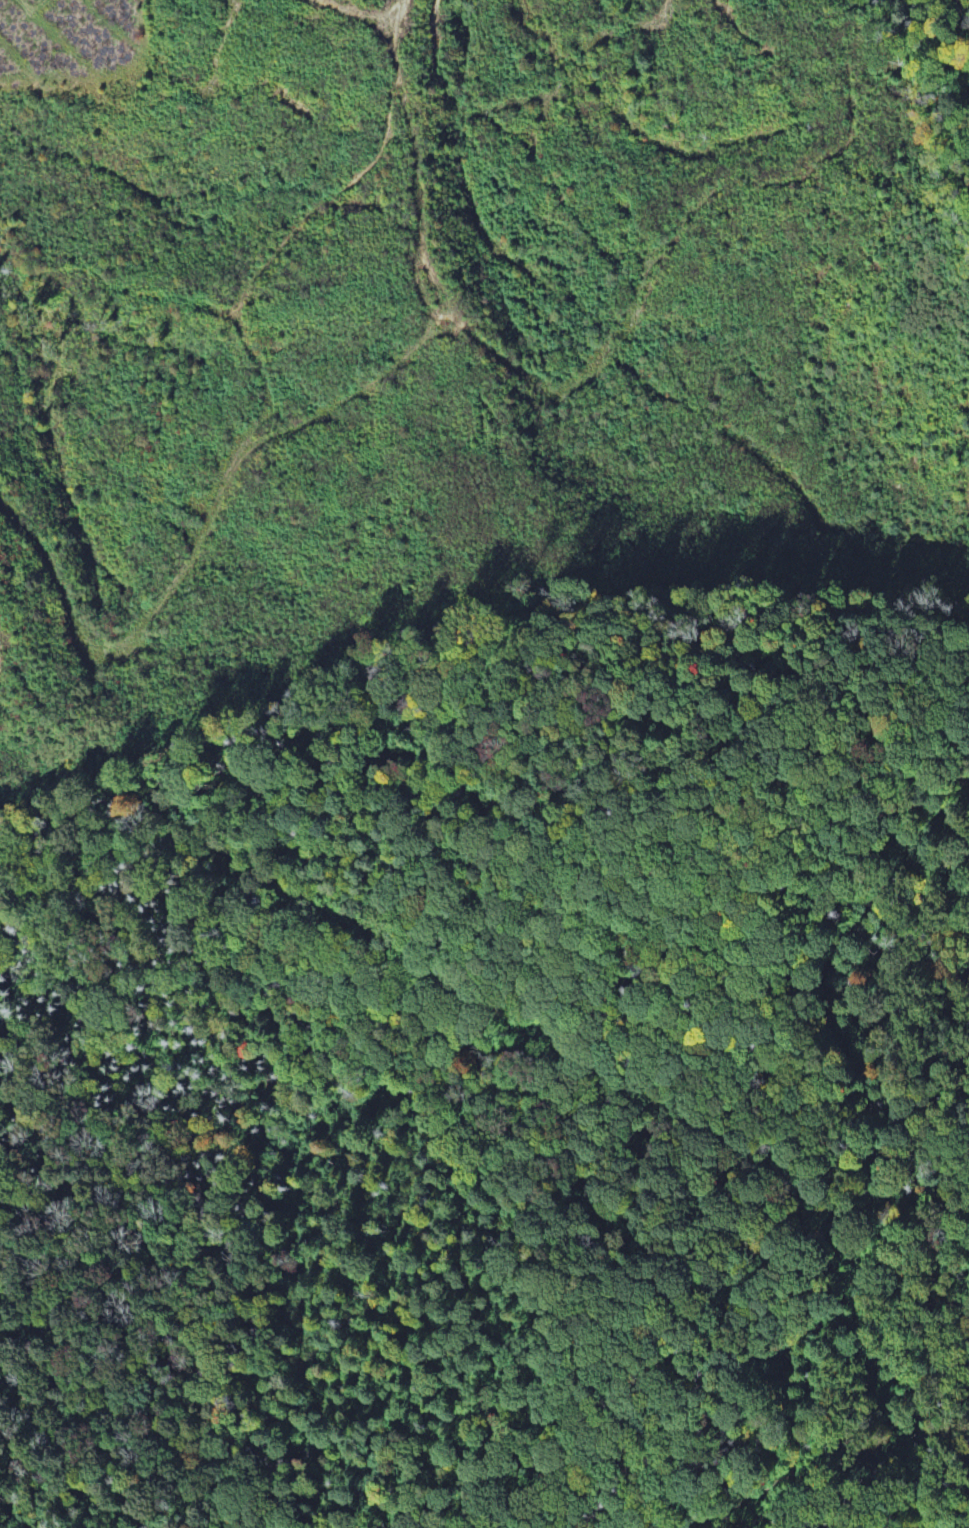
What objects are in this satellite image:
road: (869, 1169)

